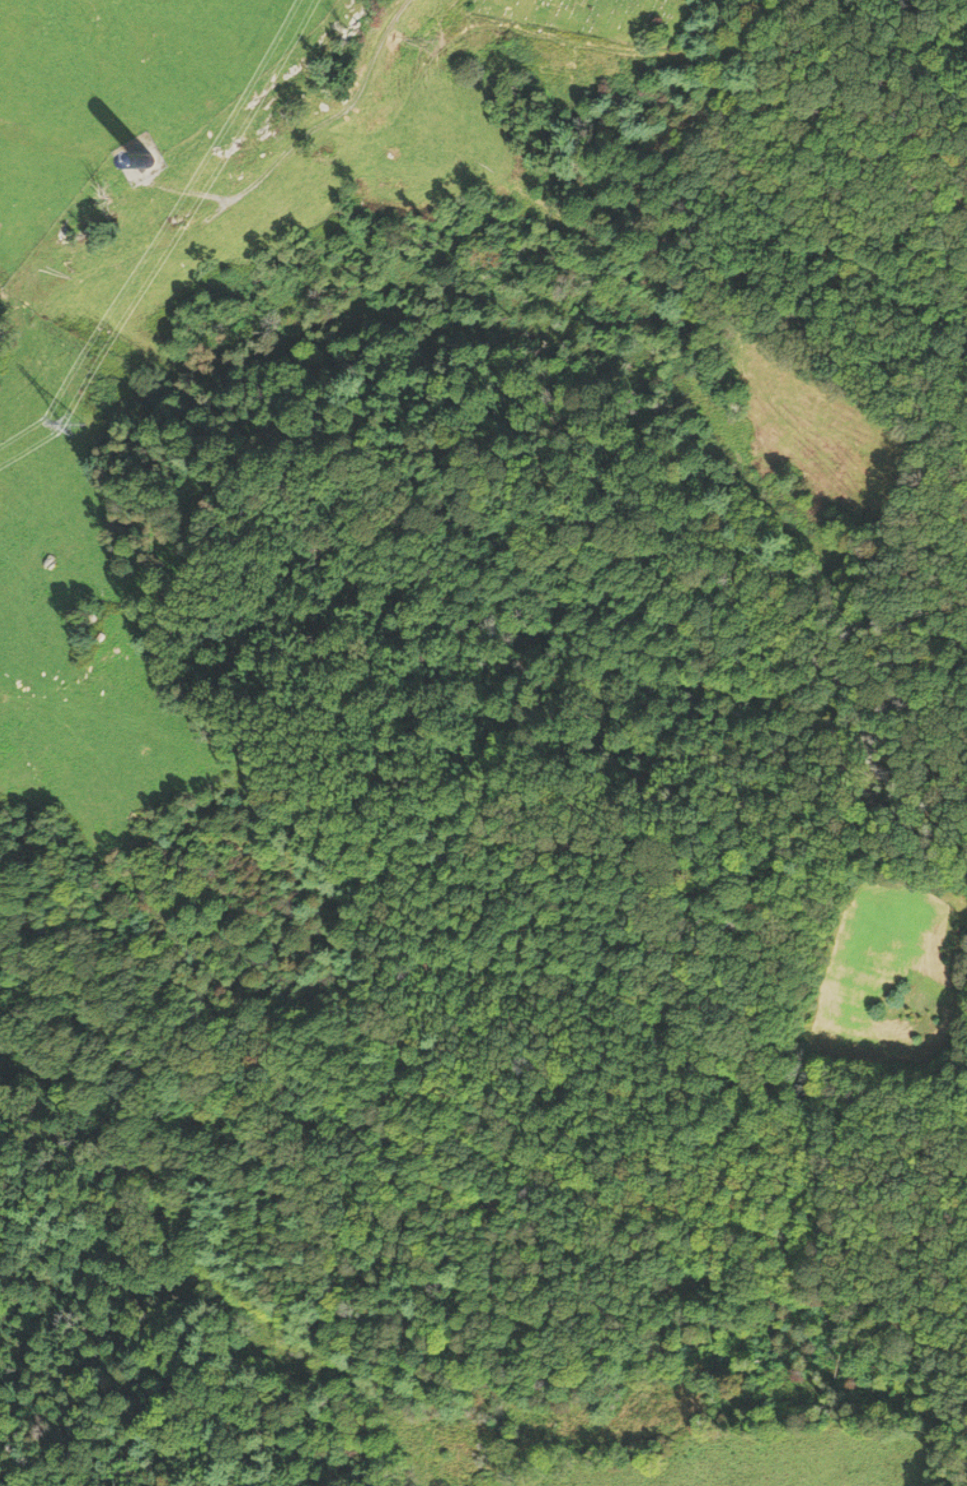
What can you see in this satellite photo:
power tower: (85, 423)

